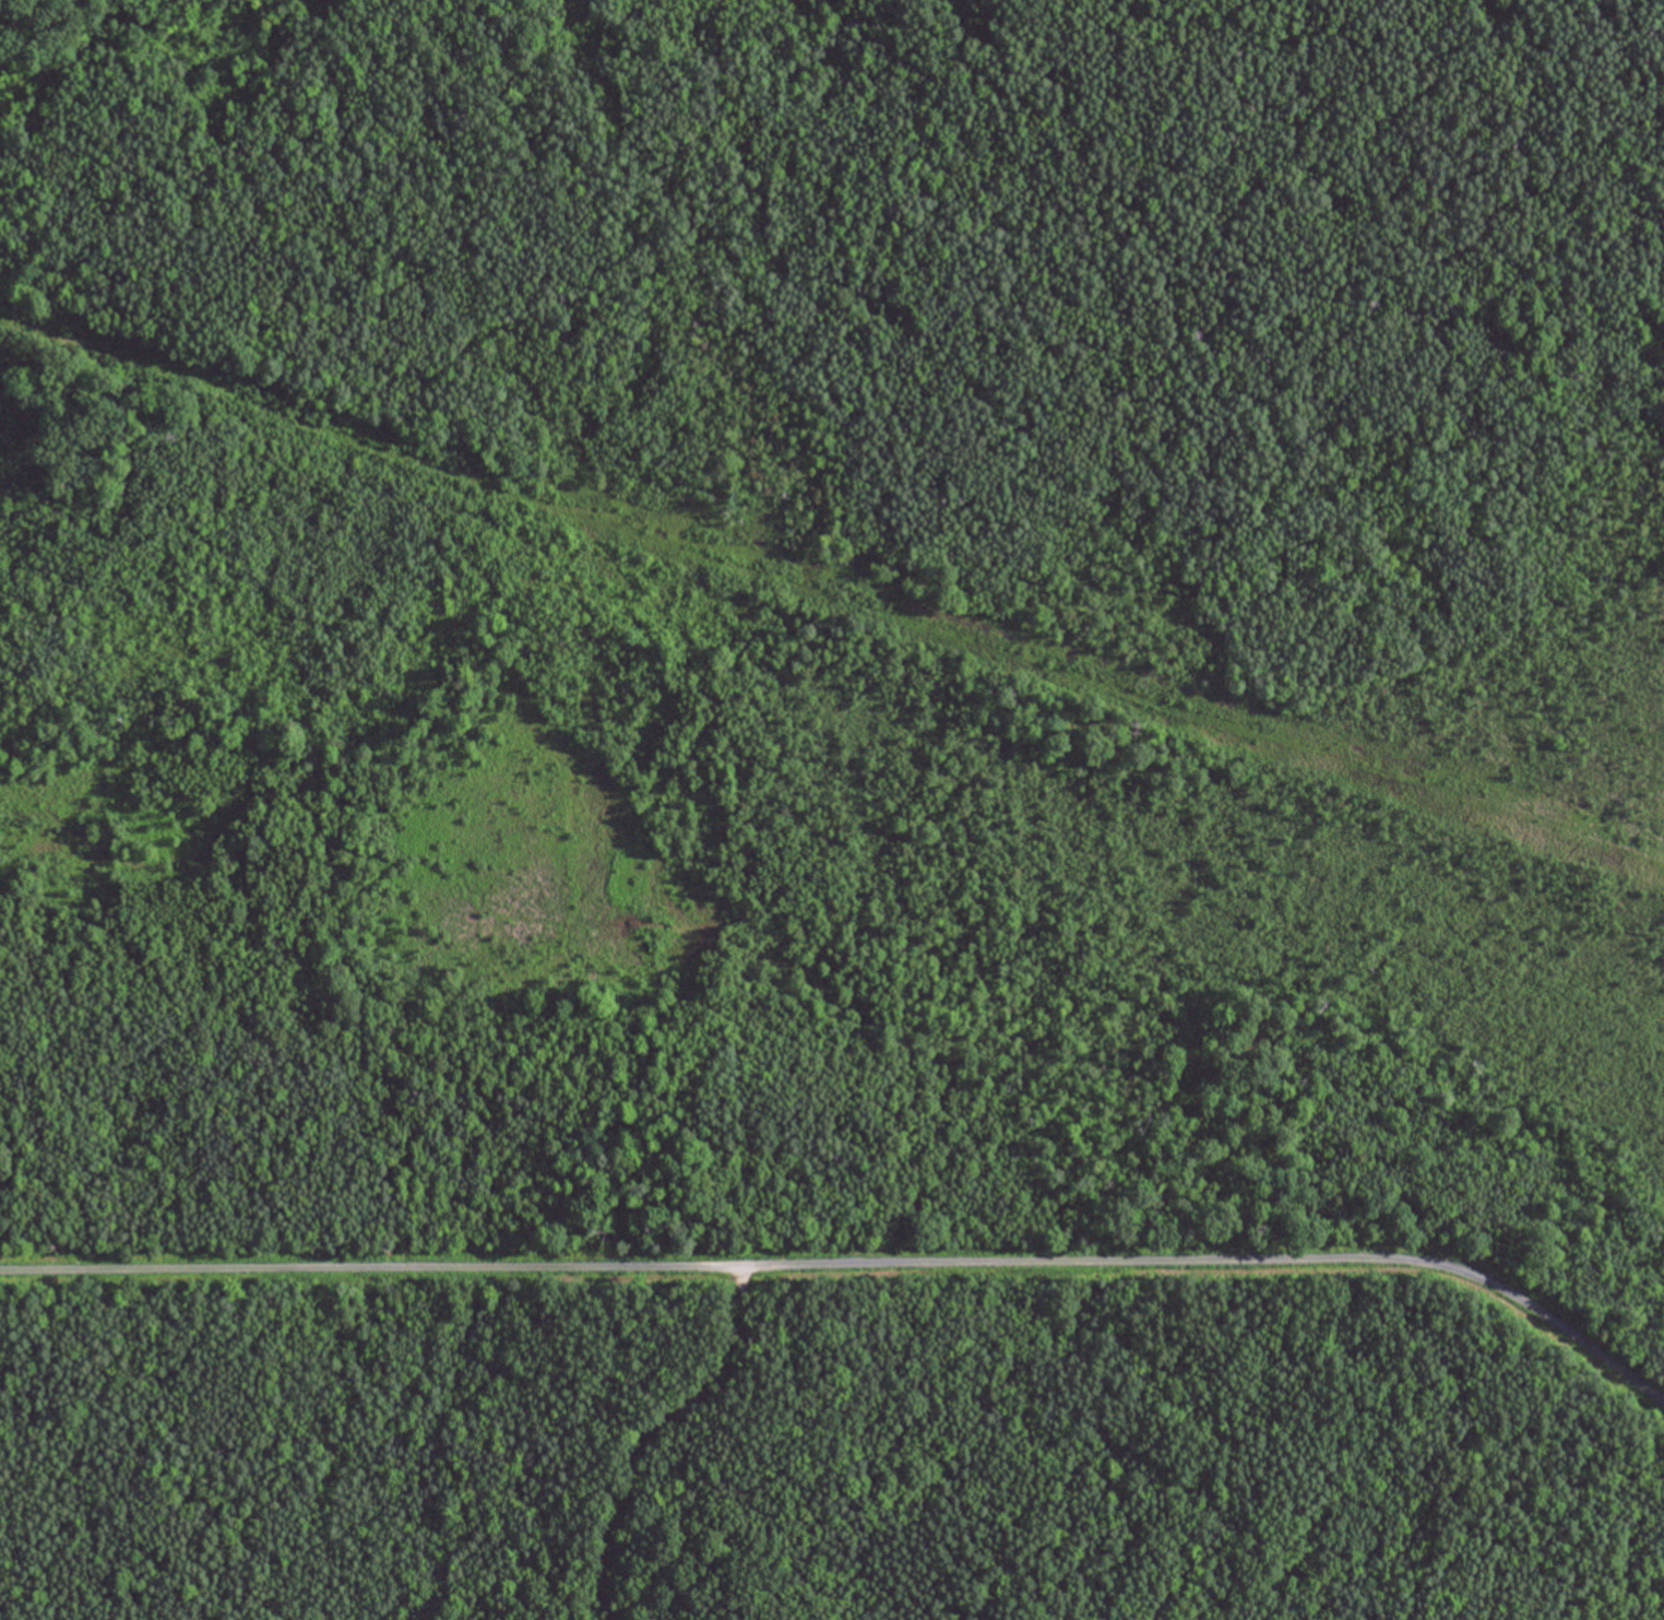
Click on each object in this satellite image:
road: (853, 1268)

